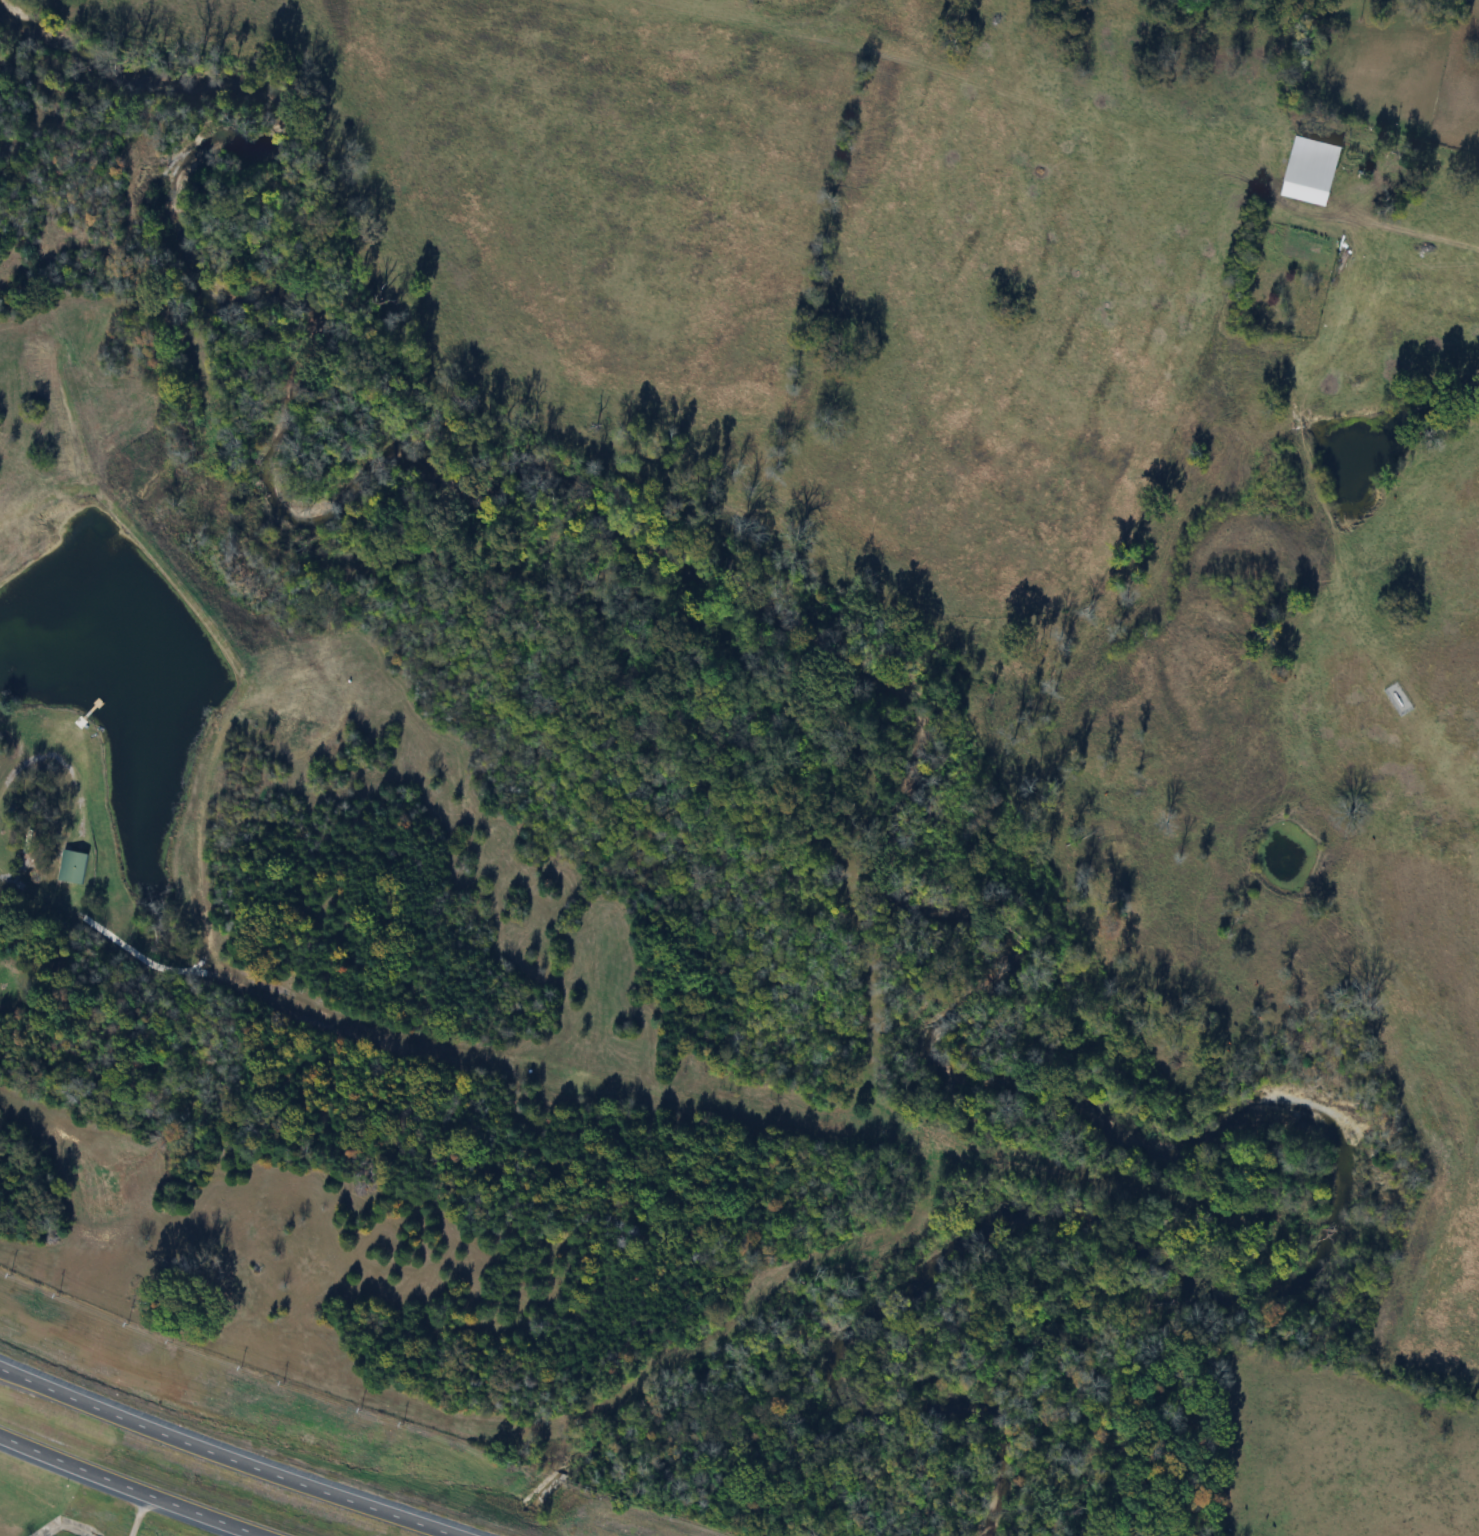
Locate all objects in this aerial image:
building: (1309, 163)
building: (70, 867)
road: (224, 1455)
road: (132, 1490)
road: (134, 1515)

